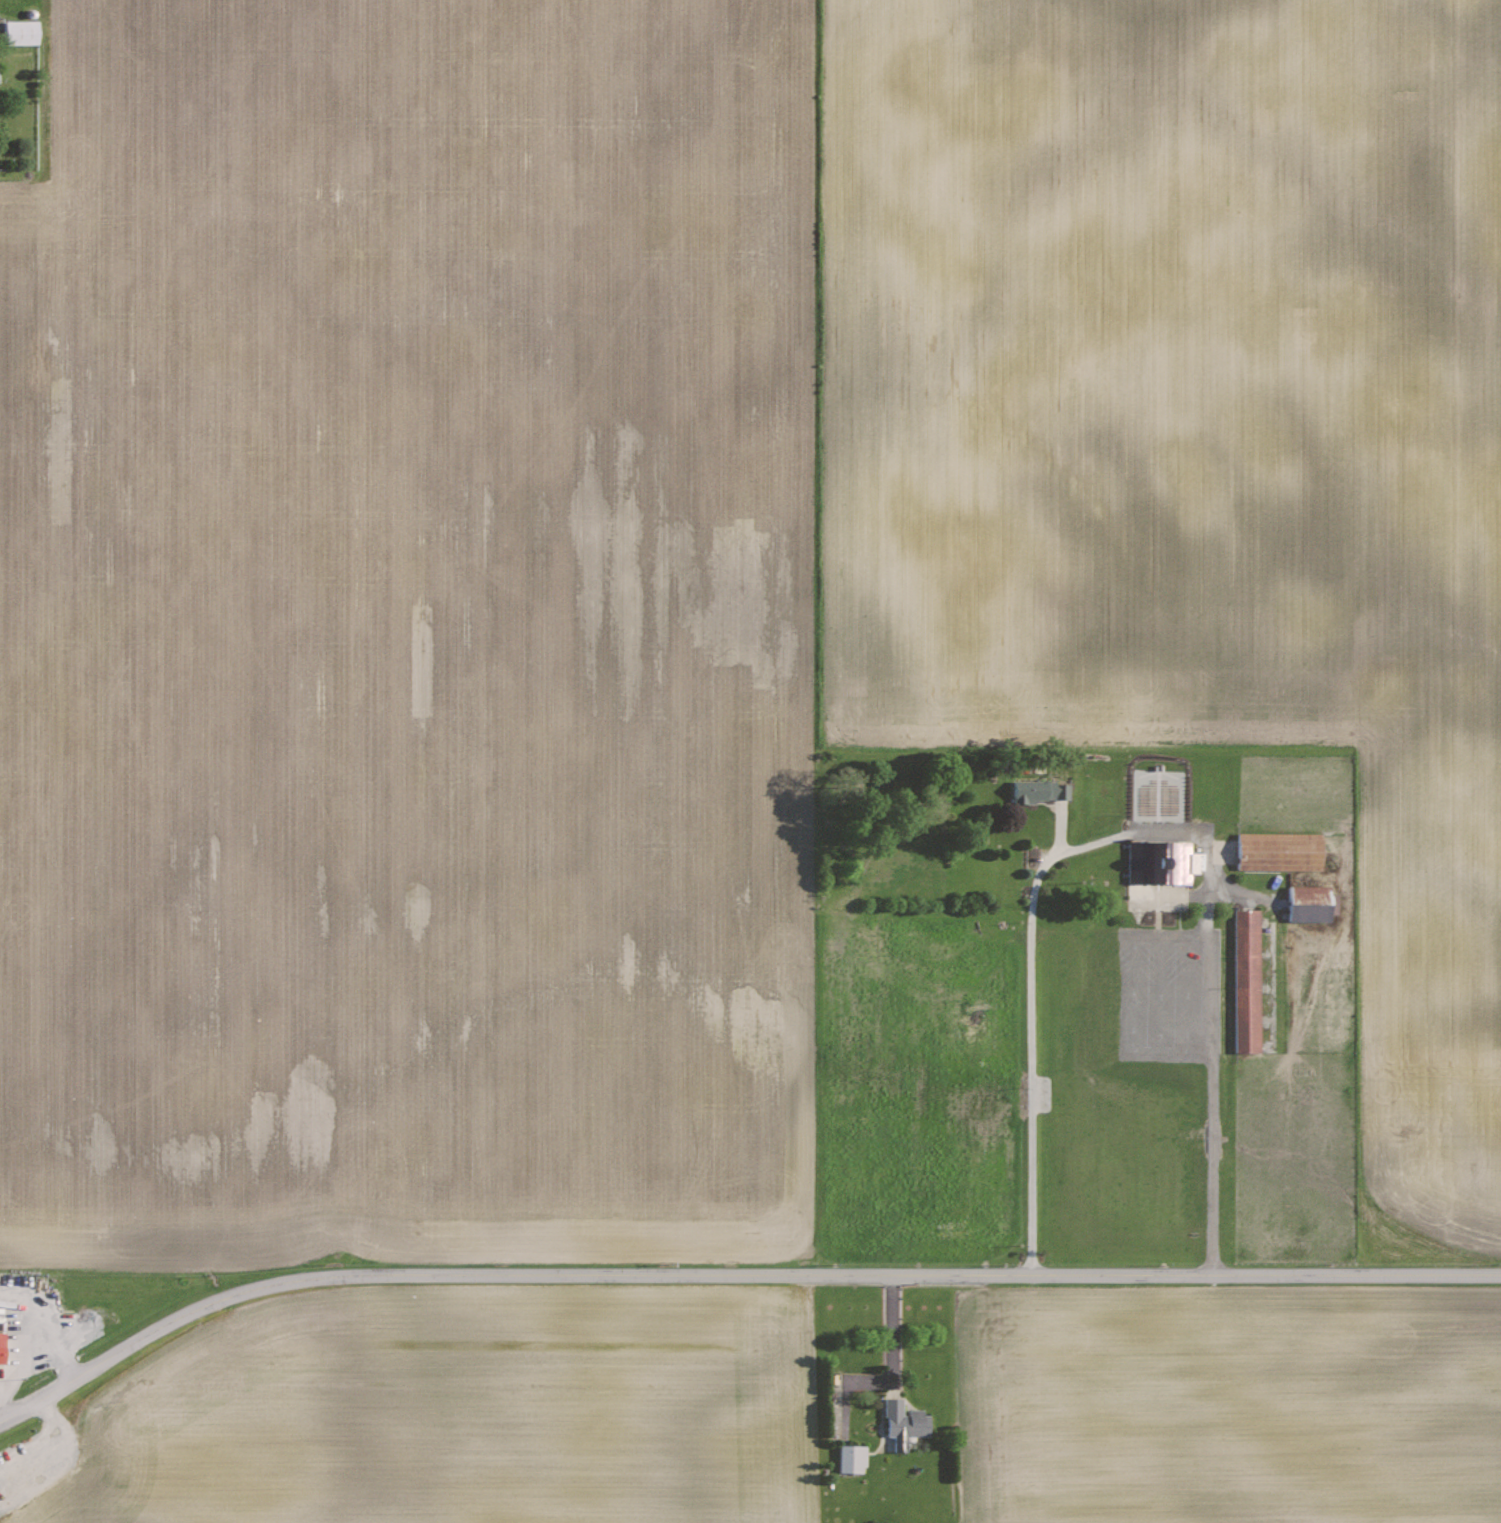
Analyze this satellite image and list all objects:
building: (23, 33)
building: (1029, 791)
road: (1174, 833)
road: (1031, 1032)
road: (732, 1276)
road: (892, 1331)
building: (3, 1347)
building: (905, 1422)
building: (852, 1458)

